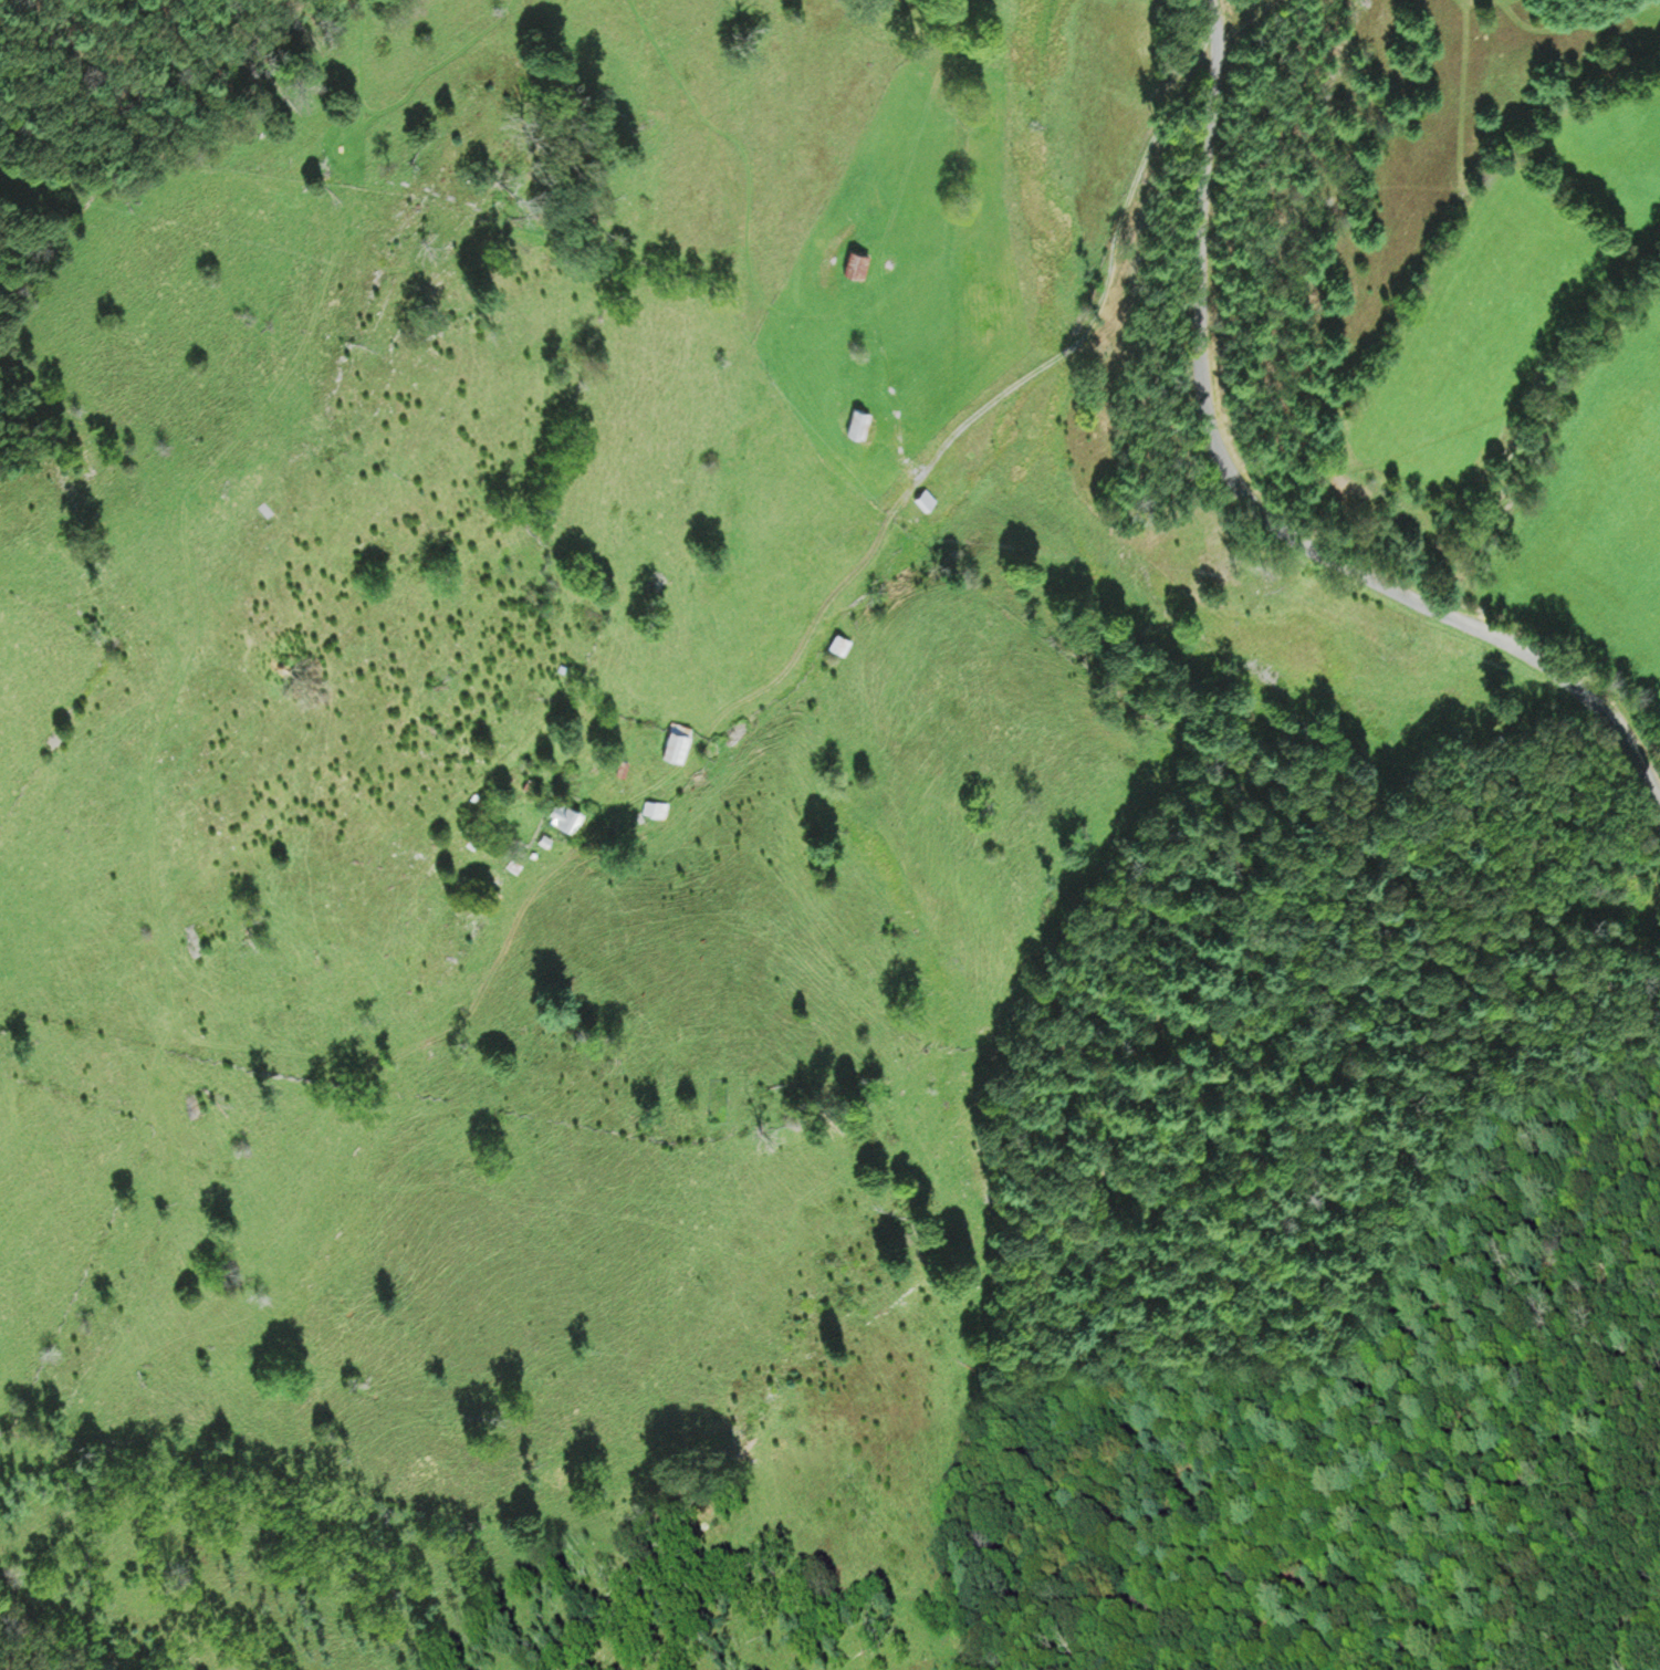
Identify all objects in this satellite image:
building: (858, 261)
building: (860, 420)
road: (939, 455)
building: (922, 503)
road: (1247, 513)
building: (842, 646)
building: (678, 742)
building: (657, 808)
building: (568, 814)
building: (495, 895)

